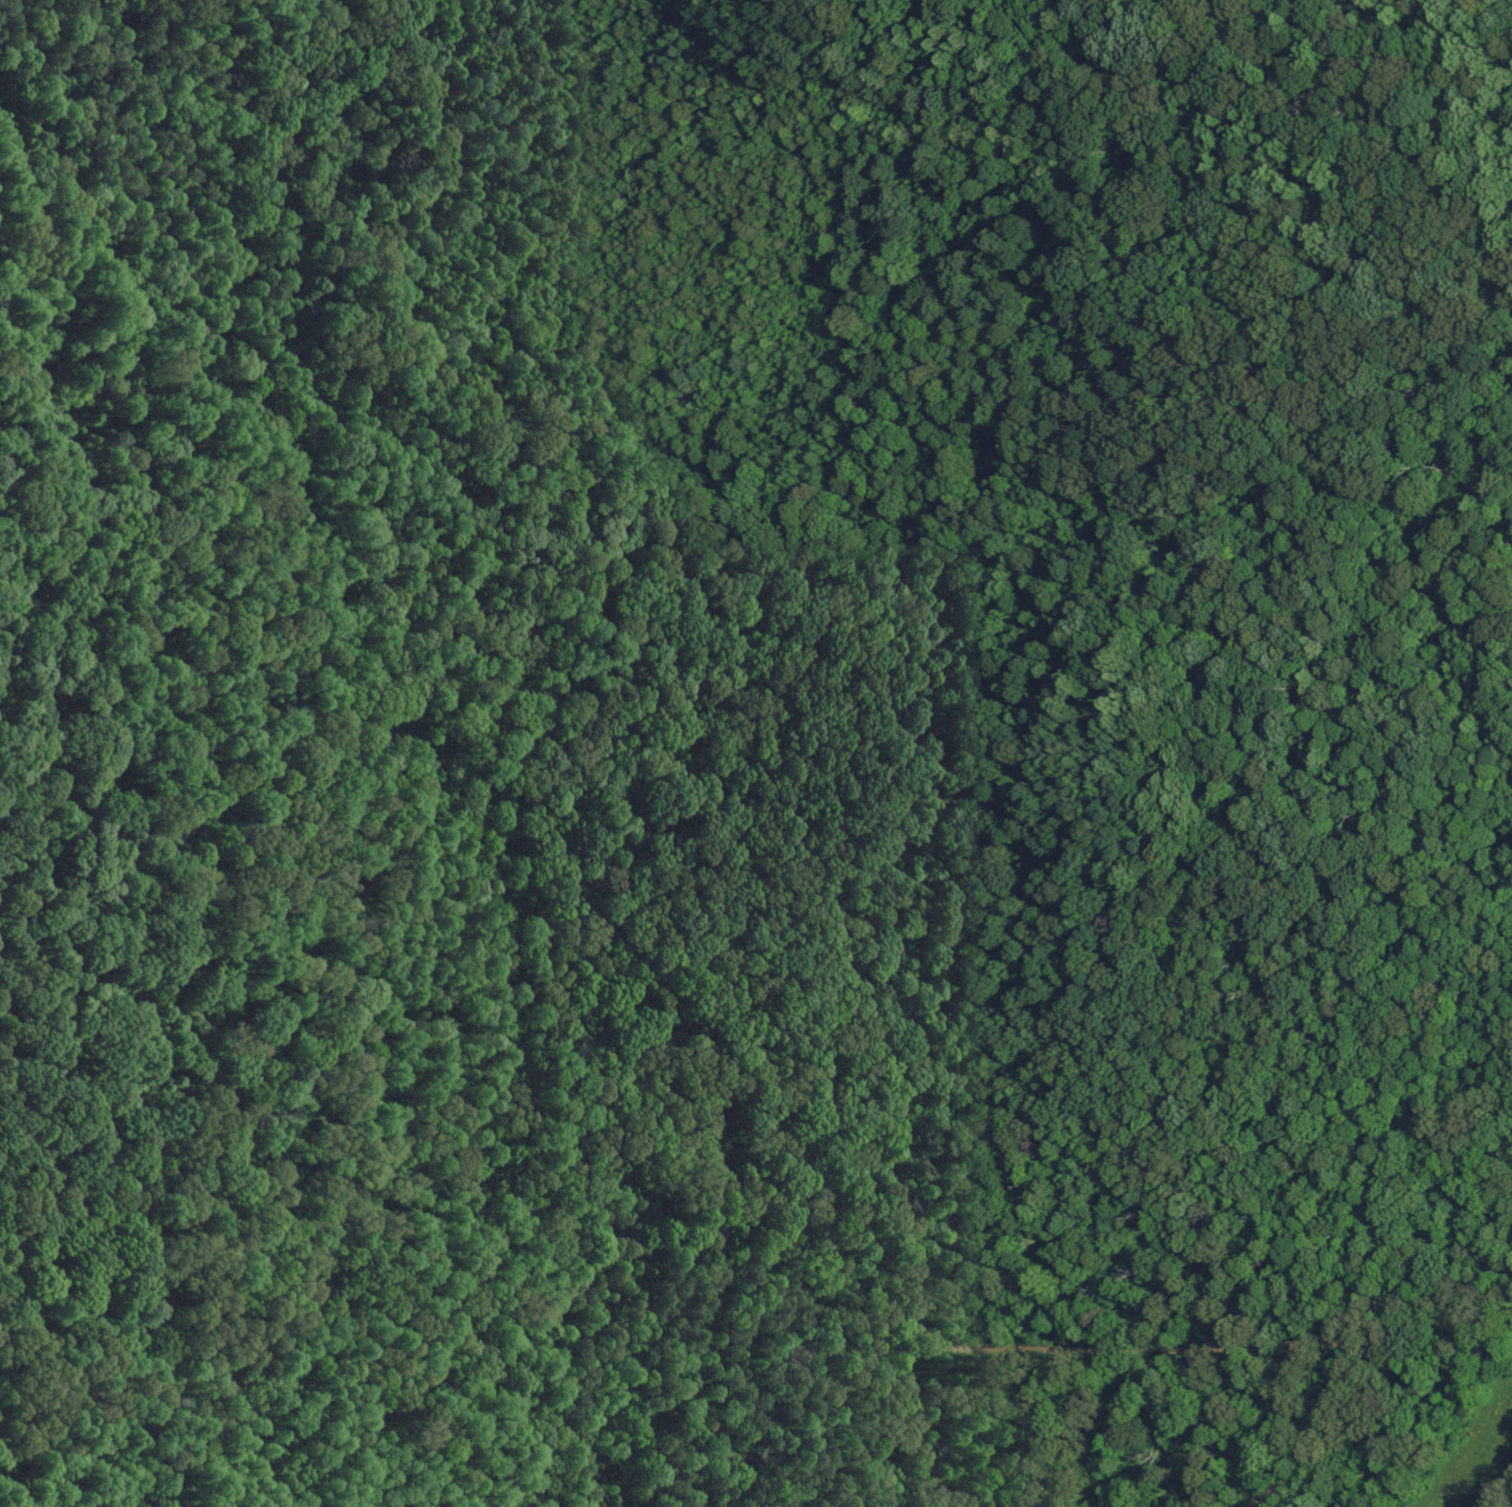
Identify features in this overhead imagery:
road: (1425, 1317)
road: (1183, 1342)
road: (836, 1440)

